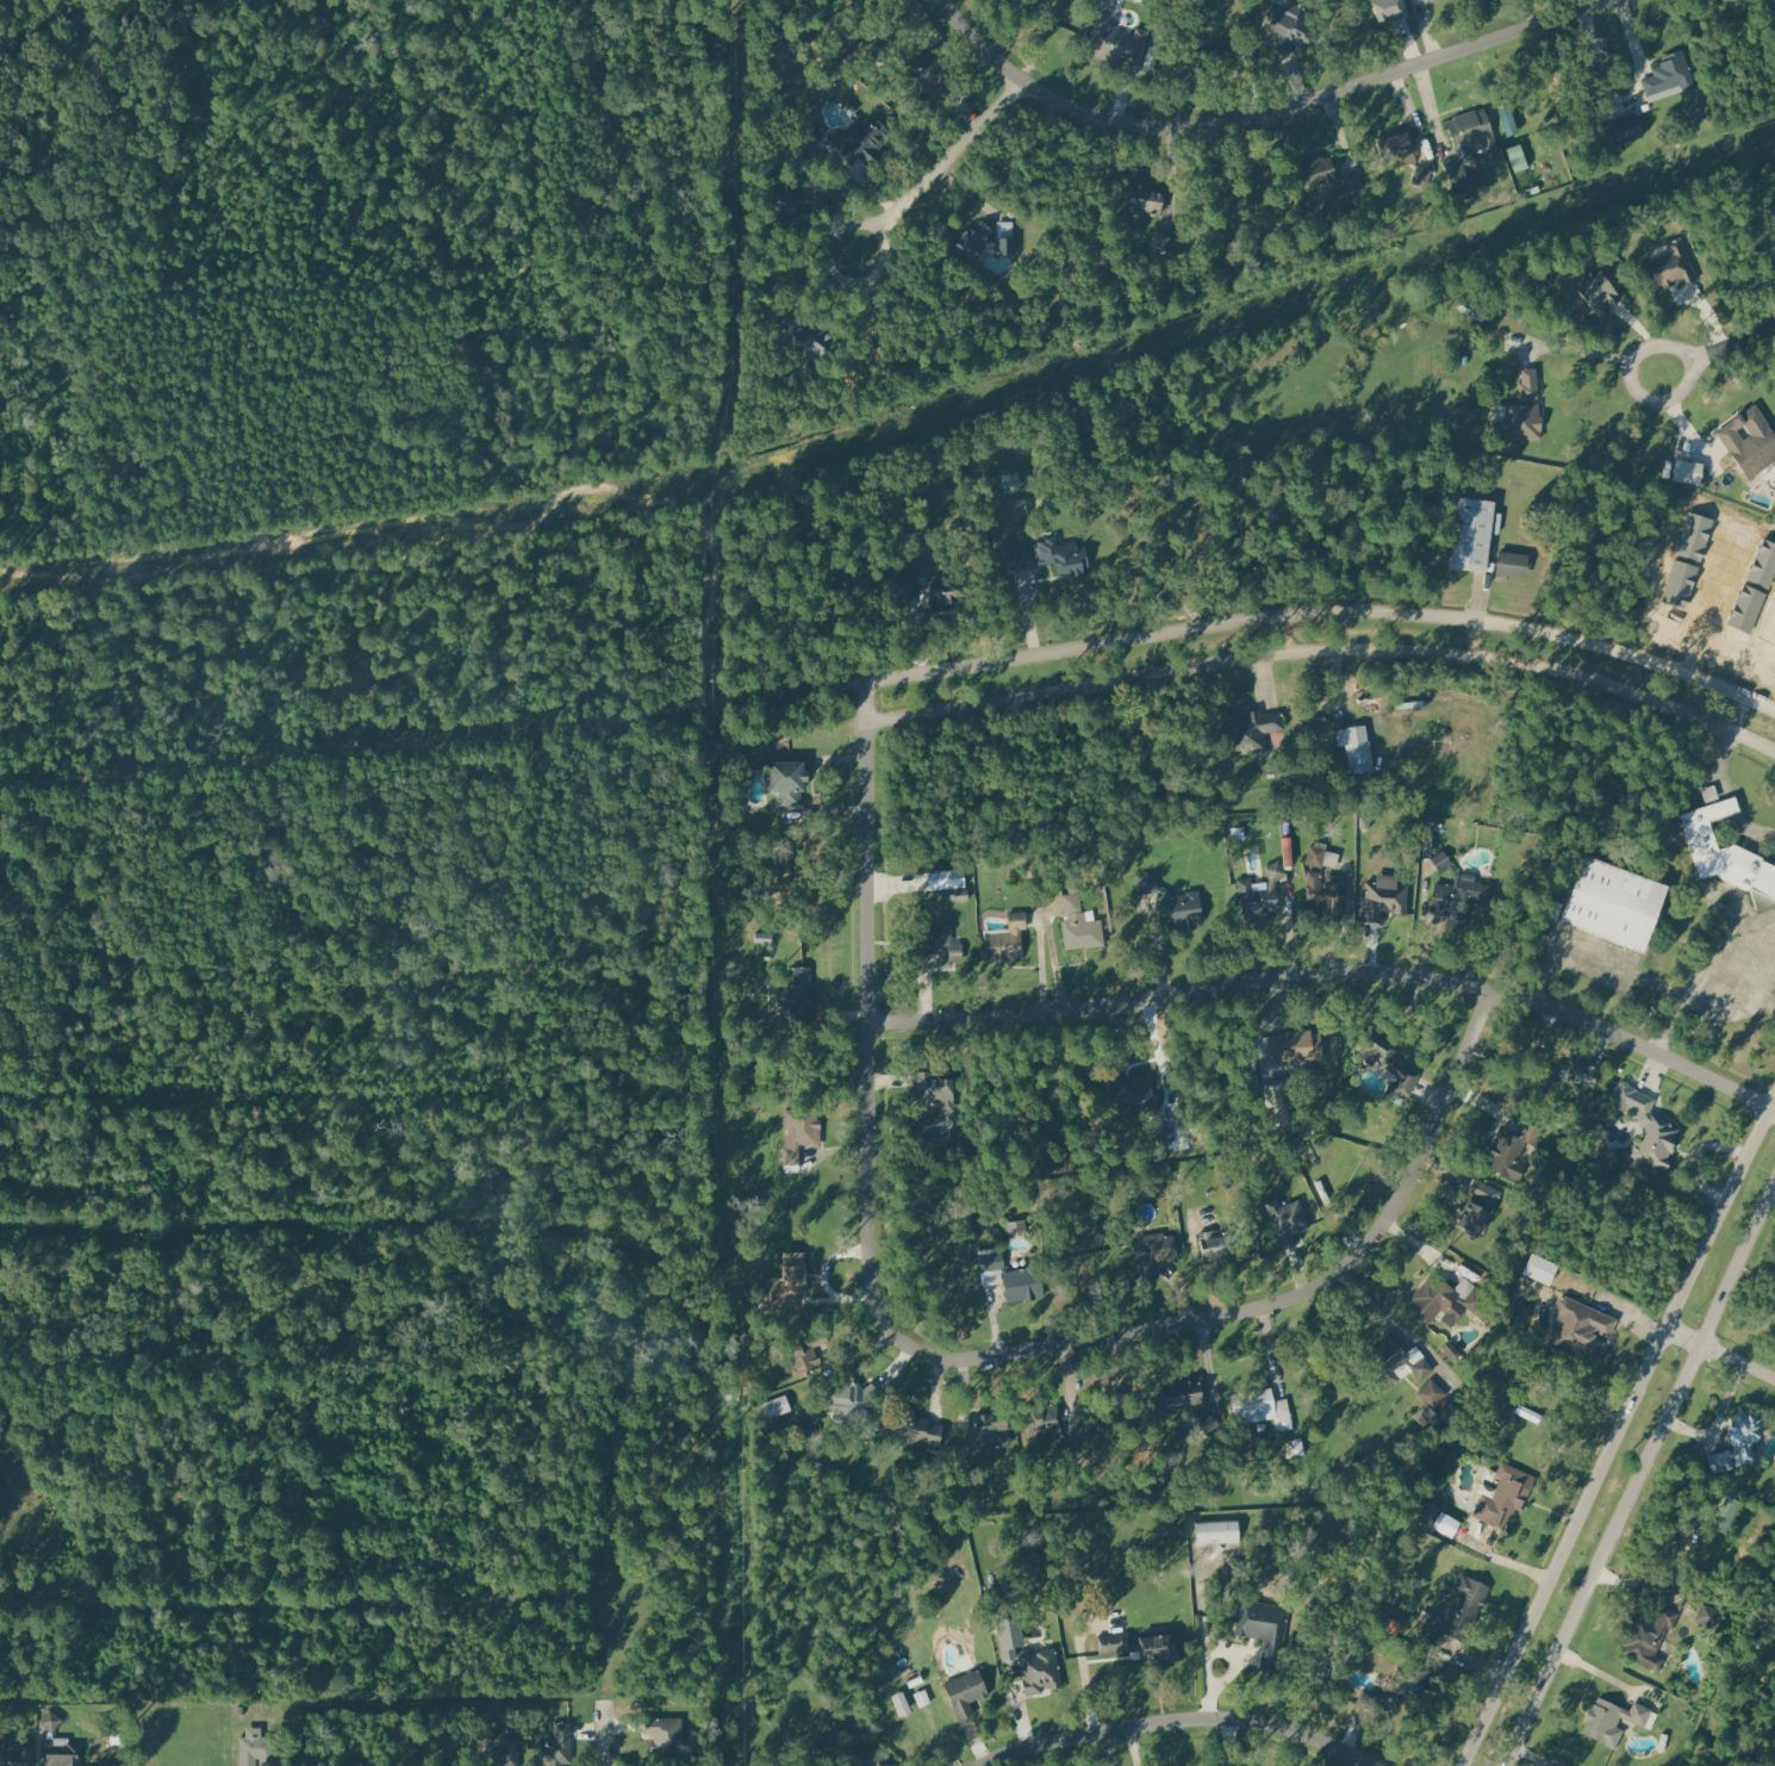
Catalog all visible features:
building: (1389, 8)
building: (1773, 23)
building: (1291, 26)
building: (1120, 44)
building: (1208, 54)
building: (929, 73)
building: (1669, 76)
road: (1270, 116)
building: (1625, 128)
building: (867, 138)
building: (1399, 144)
building: (1465, 149)
road: (942, 163)
building: (1321, 170)
building: (1148, 198)
building: (785, 199)
building: (1773, 223)
building: (1007, 237)
building: (972, 241)
building: (1669, 268)
building: (1600, 293)
building: (818, 338)
road: (1737, 343)
road: (1578, 350)
road: (1662, 402)
building: (1526, 408)
building: (1751, 441)
building: (1688, 473)
building: (1010, 481)
building: (1472, 533)
building: (1698, 537)
building: (1063, 554)
building: (1023, 556)
building: (1513, 561)
building: (1767, 565)
building: (1682, 584)
building: (951, 592)
building: (1752, 609)
road: (1325, 615)
road: (1325, 649)
road: (790, 696)
road: (1742, 714)
building: (1253, 729)
building: (1357, 746)
road: (356, 753)
building: (789, 779)
road: (1726, 794)
building: (1726, 851)
building: (1316, 853)
building: (1441, 859)
building: (1277, 870)
building: (947, 877)
building: (1148, 883)
building: (1326, 894)
building: (1385, 896)
building: (1457, 897)
building: (1258, 898)
building: (1614, 902)
building: (1185, 909)
building: (1080, 924)
building: (1005, 938)
building: (939, 947)
road: (1594, 958)
road: (1701, 968)
road: (1334, 971)
building: (798, 994)
building: (1296, 1045)
building: (1384, 1058)
building: (1542, 1069)
building: (1587, 1072)
building: (934, 1090)
building: (1134, 1096)
building: (1278, 1105)
building: (1160, 1130)
building: (801, 1131)
building: (1652, 1134)
building: (1513, 1150)
road: (1698, 1157)
building: (1477, 1207)
building: (1288, 1220)
building: (1212, 1242)
building: (1153, 1252)
building: (991, 1261)
building: (1540, 1268)
building: (795, 1273)
building: (1023, 1283)
building: (1444, 1296)
road: (1632, 1314)
building: (1578, 1324)
building: (806, 1350)
road: (1720, 1354)
road: (955, 1357)
building: (1388, 1358)
building: (1183, 1393)
building: (1433, 1399)
building: (1262, 1410)
building: (1040, 1413)
road: (1721, 1420)
building: (915, 1429)
building: (992, 1434)
road: (1620, 1434)
building: (1740, 1439)
building: (1295, 1448)
road: (1640, 1476)
building: (1506, 1495)
building: (1425, 1512)
building: (1726, 1512)
building: (1216, 1530)
building: (1228, 1579)
building: (1455, 1611)
building: (1709, 1616)
building: (1264, 1627)
building: (1009, 1637)
building: (1650, 1637)
building: (1141, 1644)
road: (1083, 1662)
building: (1040, 1669)
building: (1412, 1684)
building: (966, 1692)
building: (922, 1698)
building: (1368, 1698)
building: (899, 1703)
building: (1639, 1715)
road: (1181, 1717)
building: (1603, 1721)
building: (6, 1733)
building: (666, 1734)
road: (604, 1735)
building: (504, 1741)
building: (254, 1746)
building: (555, 1746)
building: (66, 1756)
building: (20, 1758)
building: (873, 1759)

